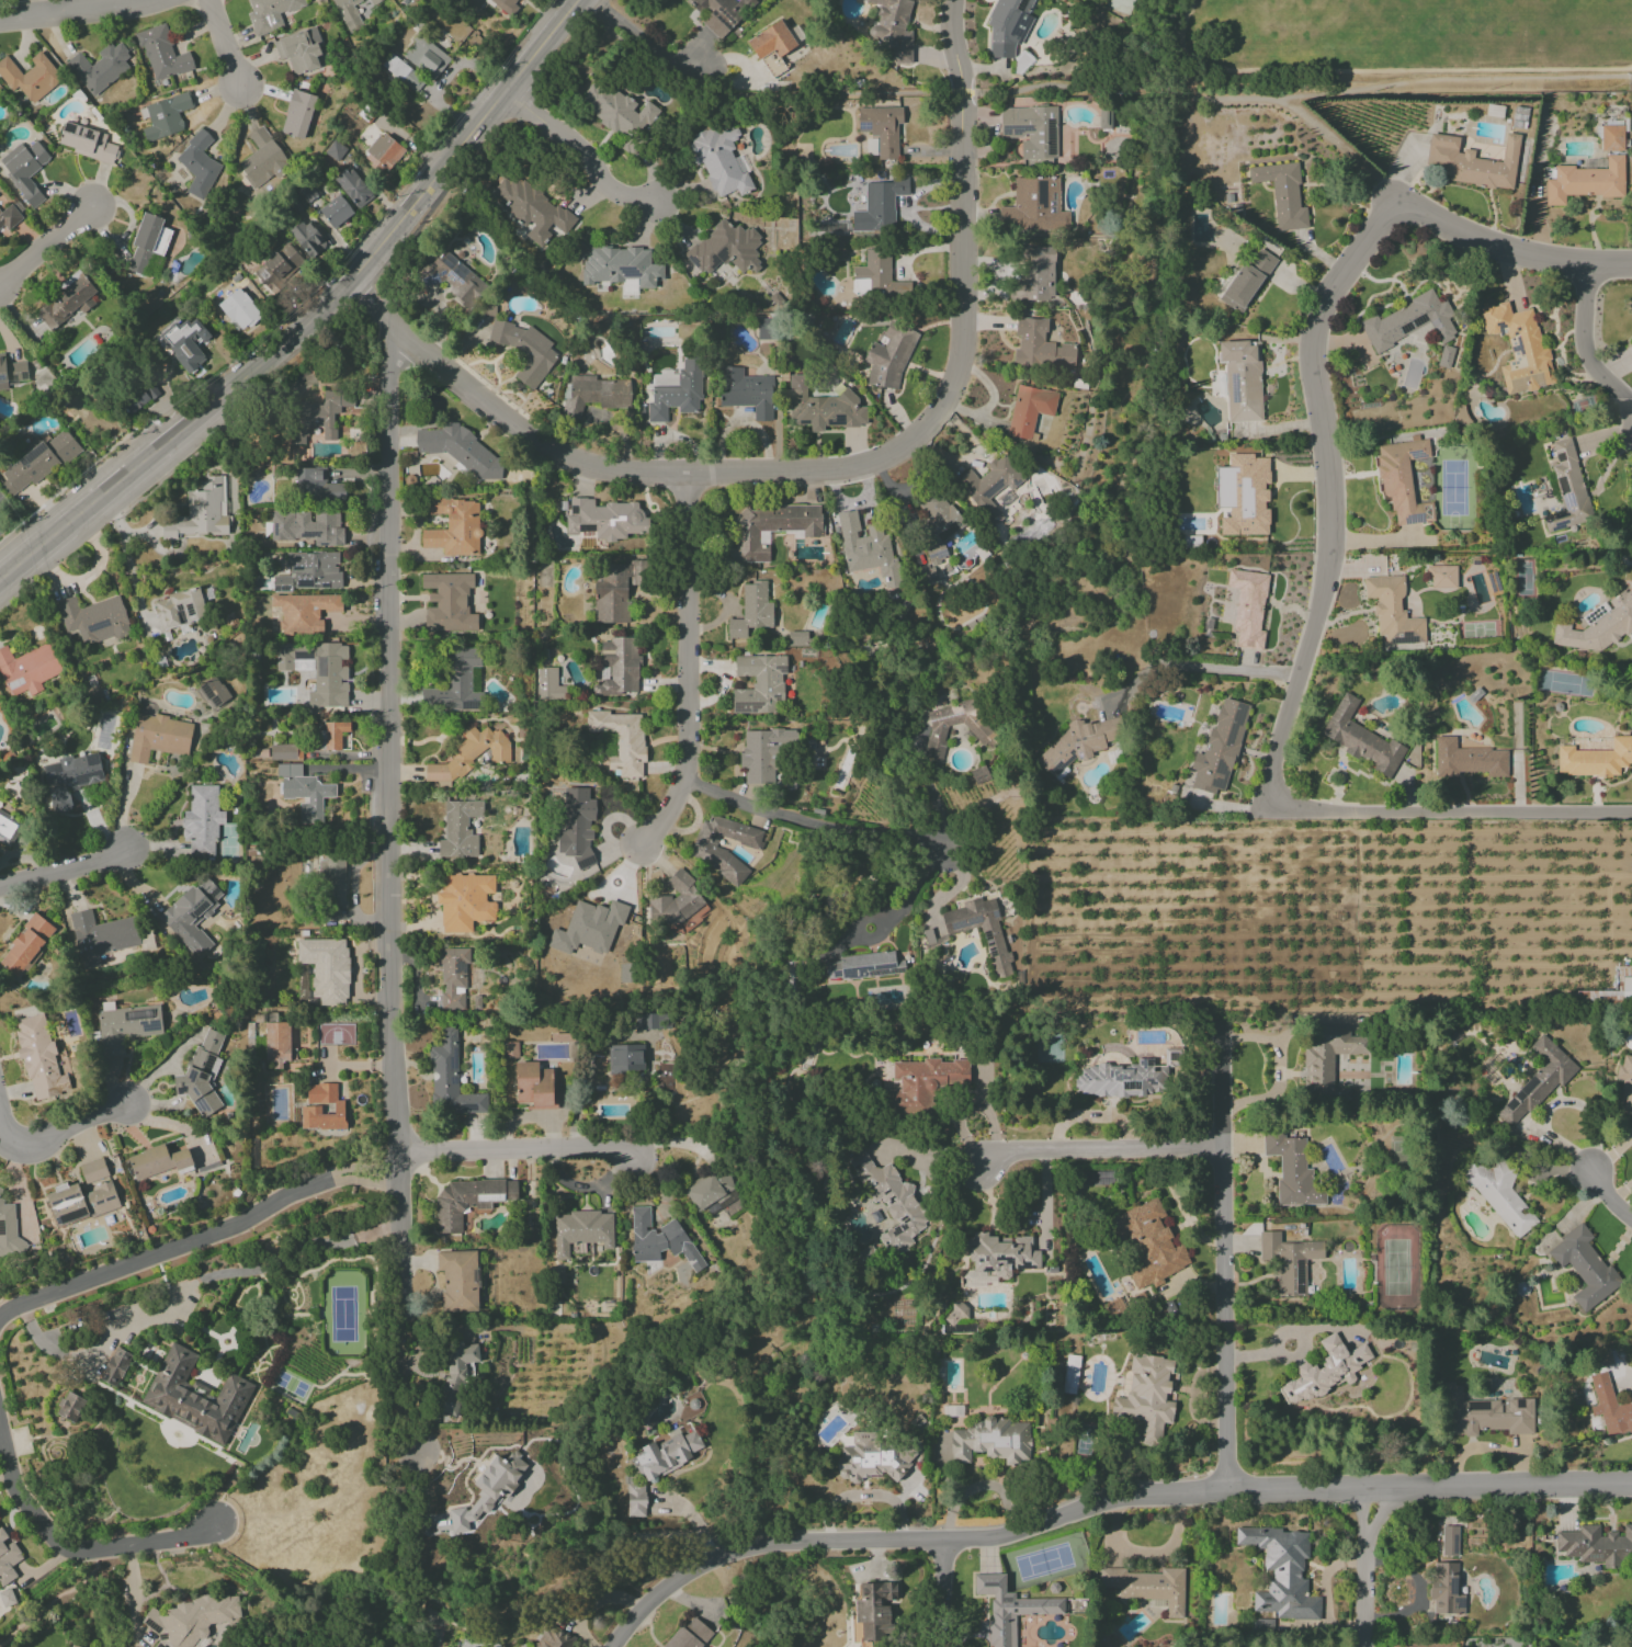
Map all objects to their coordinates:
building: (506, 5)
building: (345, 9)
road: (71, 10)
building: (270, 14)
building: (723, 14)
park: (1287, 20)
building: (1007, 26)
building: (893, 29)
park: (1521, 31)
building: (771, 41)
road: (645, 43)
road: (224, 44)
building: (299, 50)
building: (161, 53)
building: (426, 56)
building: (772, 64)
building: (100, 67)
building: (401, 72)
building: (30, 77)
road: (1394, 83)
road: (846, 92)
road: (1151, 96)
building: (616, 110)
building: (297, 114)
building: (163, 116)
building: (1104, 118)
building: (1031, 130)
building: (881, 133)
building: (1611, 138)
building: (88, 143)
road: (1342, 147)
building: (335, 150)
building: (385, 150)
road: (583, 150)
building: (262, 159)
building: (719, 160)
building: (1472, 162)
building: (199, 164)
building: (24, 170)
building: (1585, 181)
building: (353, 186)
building: (1282, 194)
building: (879, 206)
building: (1032, 206)
building: (532, 211)
building: (336, 212)
building: (8, 217)
building: (308, 239)
building: (147, 242)
road: (45, 246)
building: (725, 249)
road: (1507, 249)
building: (621, 265)
building: (277, 266)
building: (1033, 274)
building: (452, 279)
building: (877, 279)
building: (1245, 281)
building: (67, 302)
building: (239, 309)
road: (314, 316)
building: (1409, 321)
building: (766, 329)
building: (185, 342)
road: (1585, 345)
building: (1040, 347)
building: (1519, 348)
building: (524, 350)
building: (889, 356)
building: (1444, 356)
building: (11, 373)
building: (1242, 379)
building: (676, 390)
building: (746, 391)
building: (594, 394)
building: (138, 397)
building: (821, 408)
building: (1029, 410)
building: (318, 416)
building: (458, 450)
building: (38, 463)
road: (830, 474)
building: (1402, 479)
building: (316, 484)
building: (989, 486)
building: (1567, 489)
road: (1330, 492)
building: (1243, 495)
building: (199, 513)
building: (604, 519)
road: (118, 526)
building: (306, 527)
building: (454, 527)
building: (770, 529)
building: (934, 533)
building: (869, 550)
building: (309, 571)
building: (1441, 577)
road: (136, 591)
building: (614, 591)
building: (449, 602)
building: (1248, 607)
building: (179, 609)
building: (304, 612)
building: (751, 612)
building: (1392, 612)
building: (1595, 613)
building: (93, 618)
building: (1598, 626)
building: (797, 638)
building: (617, 667)
building: (27, 669)
building: (319, 670)
road: (1203, 670)
road: (685, 672)
building: (454, 682)
building: (758, 683)
building: (549, 684)
building: (213, 692)
building: (938, 728)
building: (332, 734)
building: (158, 737)
building: (1361, 739)
building: (620, 740)
building: (1078, 743)
building: (1220, 749)
building: (282, 752)
building: (763, 753)
building: (469, 754)
building: (1595, 759)
building: (1467, 760)
building: (979, 774)
building: (69, 779)
road: (927, 785)
building: (304, 792)
road: (1451, 811)
road: (809, 817)
building: (202, 821)
building: (577, 827)
building: (8, 828)
building: (458, 829)
building: (749, 842)
road: (65, 866)
building: (333, 876)
road: (389, 895)
building: (464, 901)
building: (675, 901)
building: (192, 915)
road: (891, 919)
building: (588, 928)
building: (101, 936)
building: (25, 945)
building: (997, 955)
building: (861, 966)
building: (326, 968)
building: (625, 973)
building: (452, 978)
building: (1610, 990)
building: (125, 1025)
building: (277, 1044)
building: (510, 1049)
building: (625, 1057)
building: (39, 1058)
building: (1327, 1060)
building: (201, 1075)
building: (1123, 1077)
building: (451, 1078)
building: (1535, 1082)
building: (923, 1084)
building: (534, 1086)
building: (1624, 1086)
road: (1219, 1087)
road: (1554, 1103)
building: (322, 1108)
road: (172, 1124)
road: (70, 1128)
road: (4, 1135)
road: (1107, 1147)
road: (515, 1149)
road: (1610, 1154)
building: (156, 1161)
building: (93, 1170)
building: (1291, 1170)
building: (714, 1193)
road: (1621, 1194)
building: (1500, 1195)
road: (1608, 1197)
building: (467, 1201)
building: (79, 1202)
building: (891, 1202)
building: (581, 1230)
building: (9, 1234)
road: (196, 1237)
building: (659, 1240)
building: (1148, 1243)
building: (1000, 1254)
building: (865, 1260)
building: (1289, 1261)
building: (1584, 1268)
building: (458, 1281)
road: (191, 1288)
road: (1222, 1317)
road: (1282, 1337)
building: (1602, 1358)
building: (115, 1366)
building: (1324, 1371)
building: (455, 1372)
building: (1069, 1374)
building: (1147, 1396)
building: (194, 1397)
building: (70, 1407)
building: (1610, 1407)
building: (1484, 1413)
building: (991, 1441)
building: (666, 1455)
building: (870, 1459)
building: (489, 1489)
road: (863, 1495)
road: (1137, 1497)
building: (635, 1500)
road: (400, 1512)
building: (1449, 1541)
building: (1596, 1545)
road: (71, 1551)
building: (8, 1559)
road: (1365, 1568)
building: (1281, 1572)
building: (1148, 1587)
road: (426, 1588)
building: (1446, 1589)
road: (950, 1595)
building: (7, 1598)
road: (433, 1598)
road: (55, 1601)
road: (513, 1603)
building: (1009, 1608)
building: (874, 1611)
building: (192, 1620)
road: (638, 1621)
building: (690, 1634)
building: (553, 1638)
building: (72, 1646)

